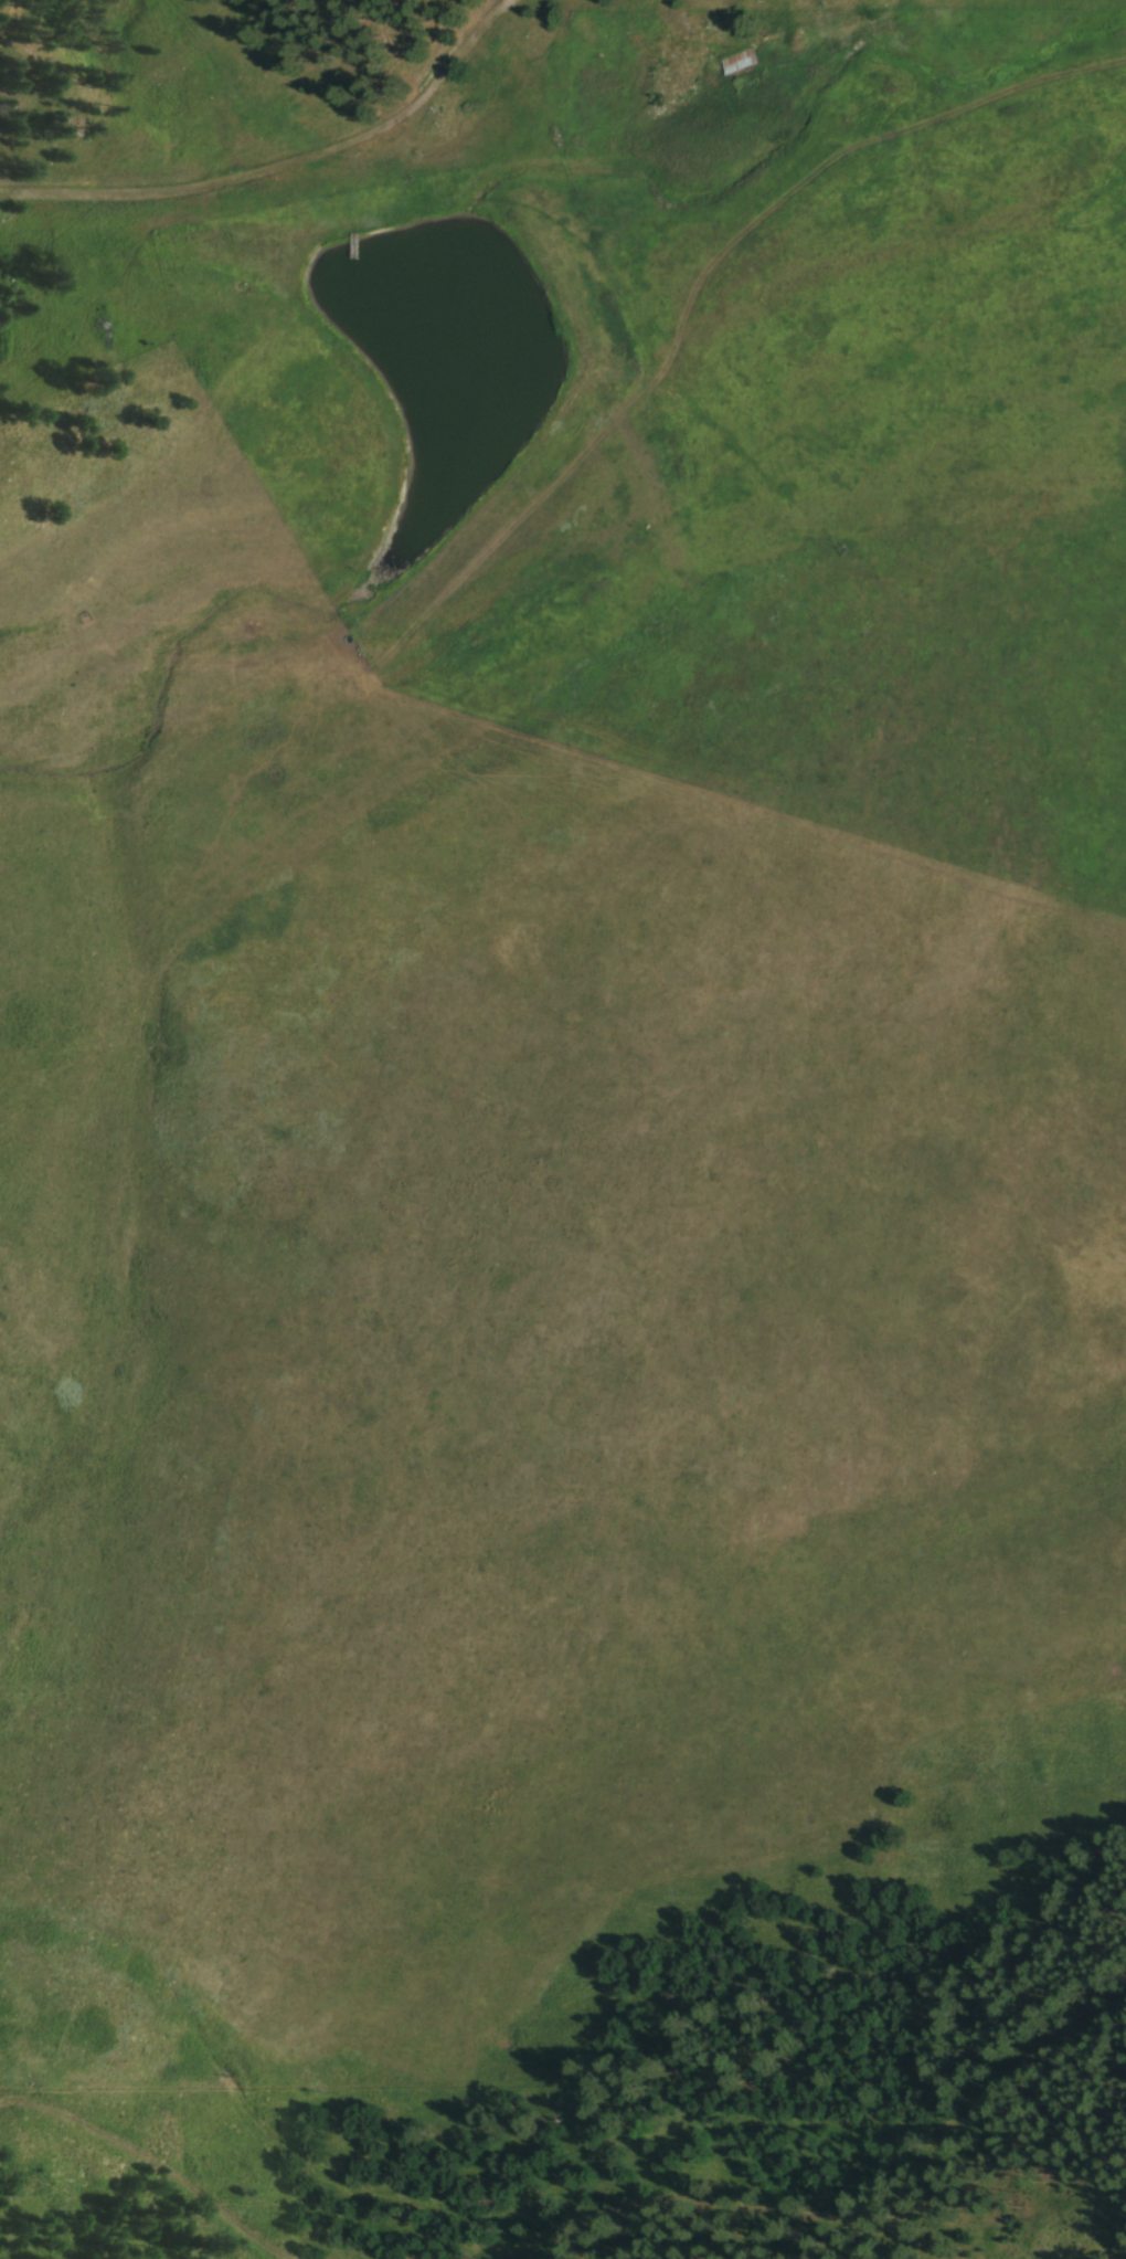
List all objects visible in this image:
building: (735, 70)
road: (152, 2164)
road: (577, 2168)
road: (727, 2203)

